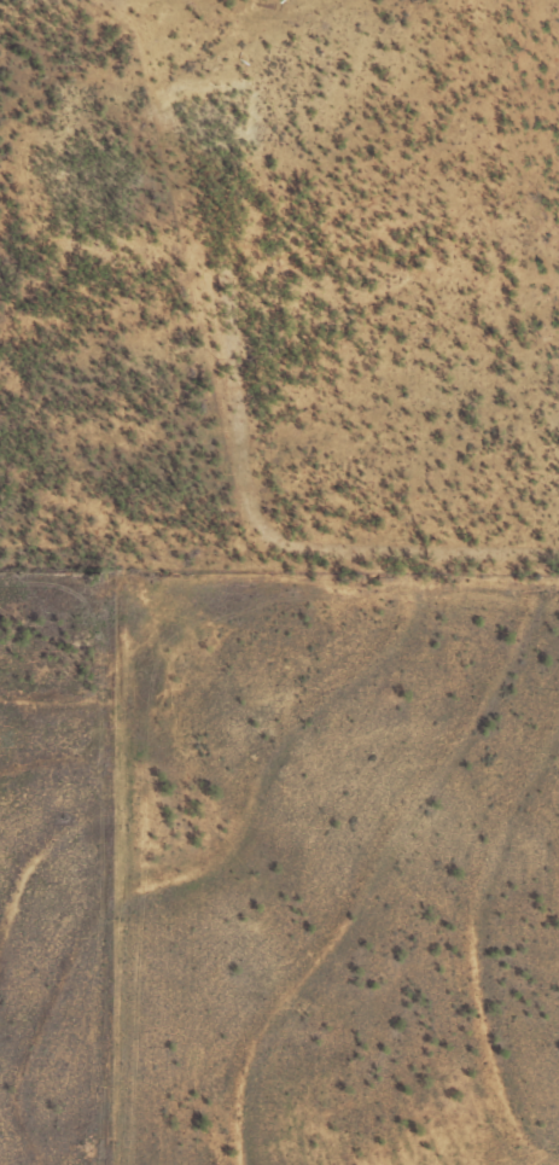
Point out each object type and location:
road: (328, 573)

